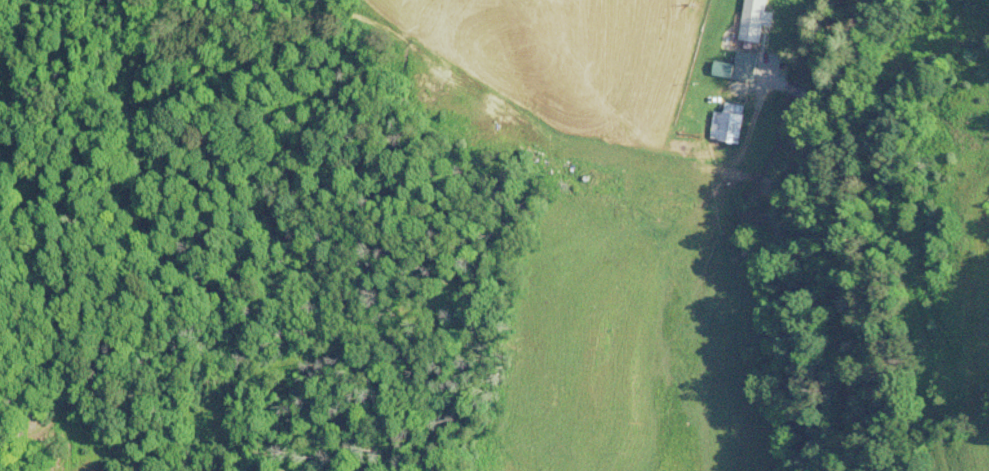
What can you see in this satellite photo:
building: (756, 20)
building: (745, 67)
building: (728, 125)
road: (850, 234)

